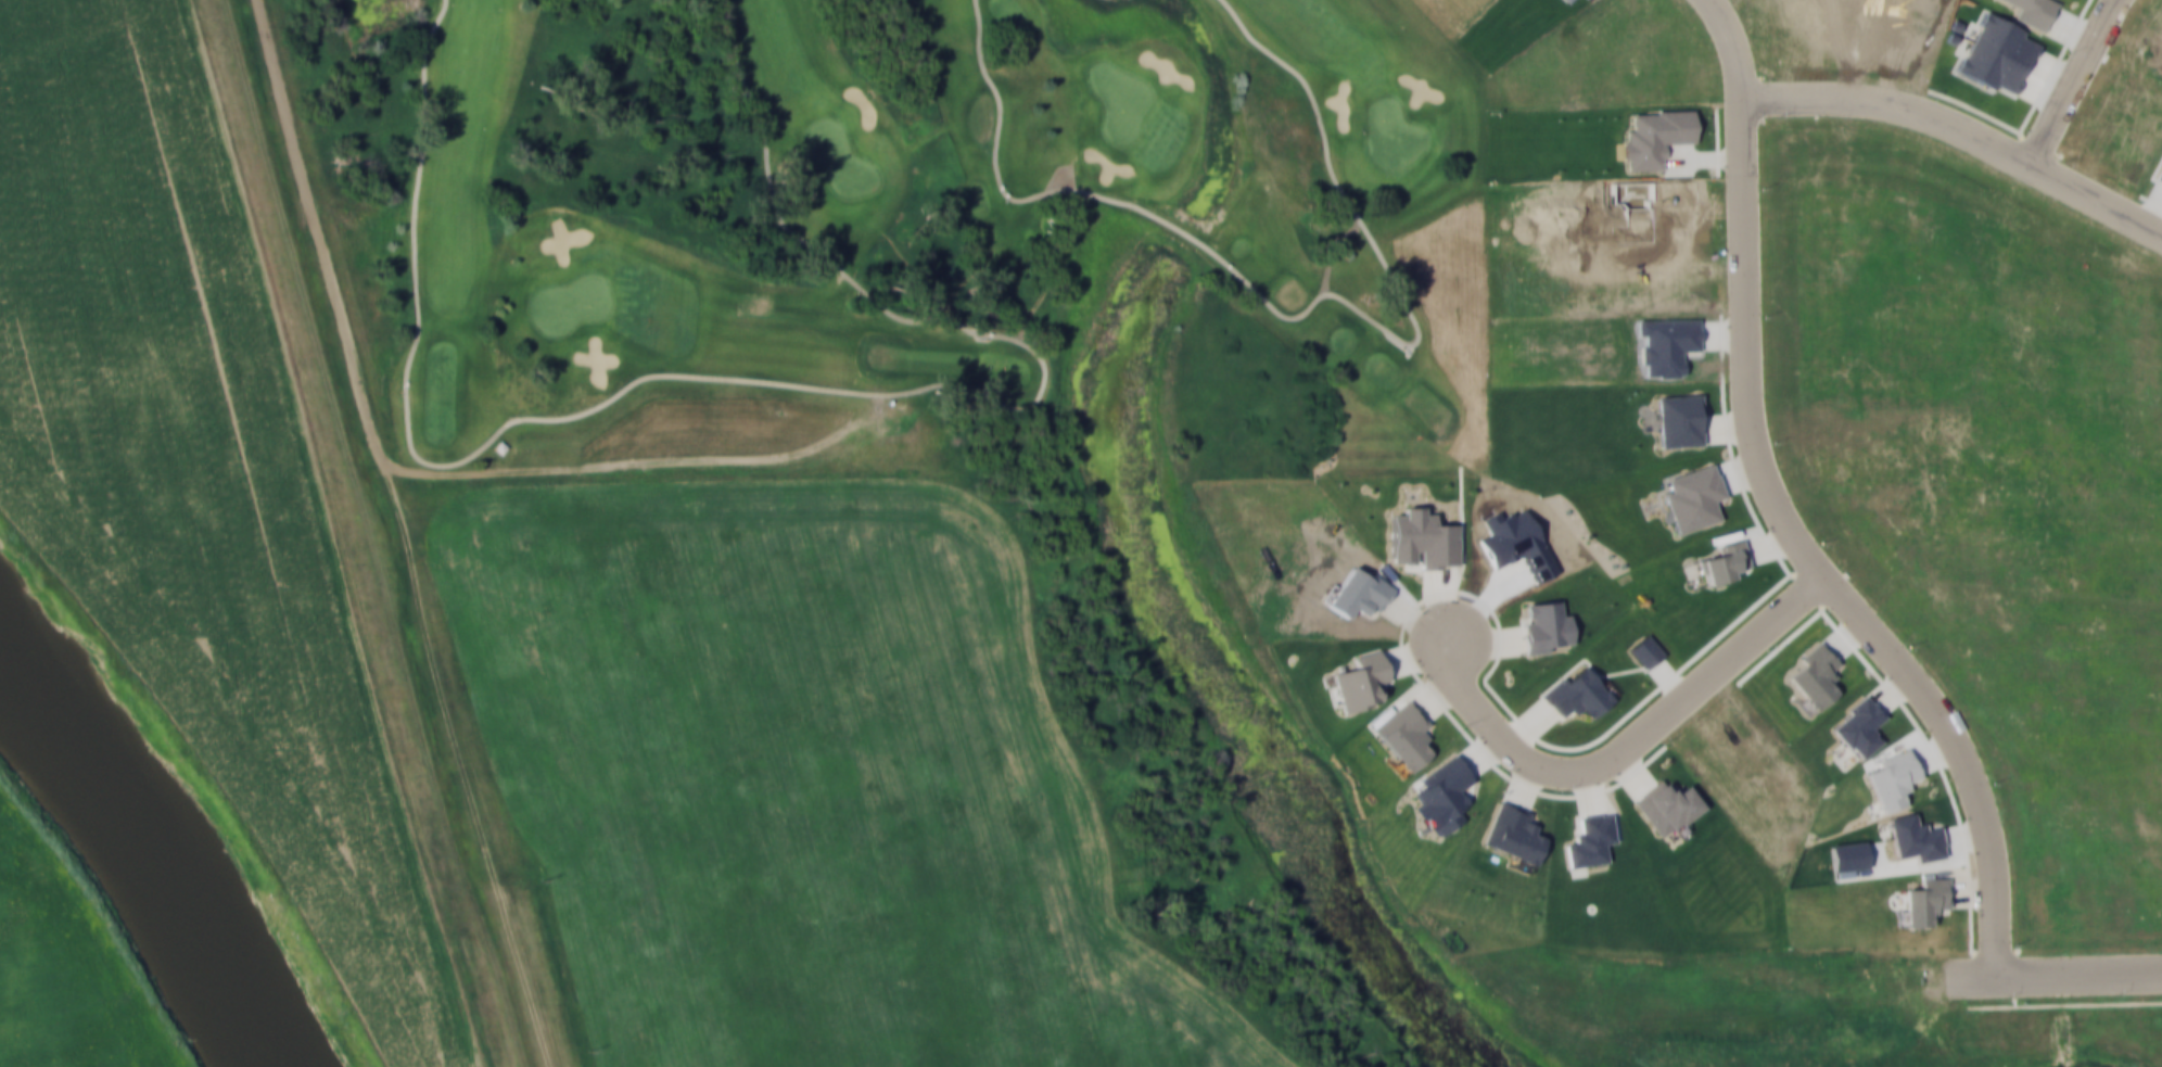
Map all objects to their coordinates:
road: (2071, 80)
road: (1961, 128)
park: (932, 233)
road: (1309, 315)
road: (775, 385)
road: (516, 433)
road: (1788, 510)
road: (377, 532)
road: (330, 534)
road: (1626, 749)
river: (154, 854)
road: (2075, 975)
road: (540, 977)

